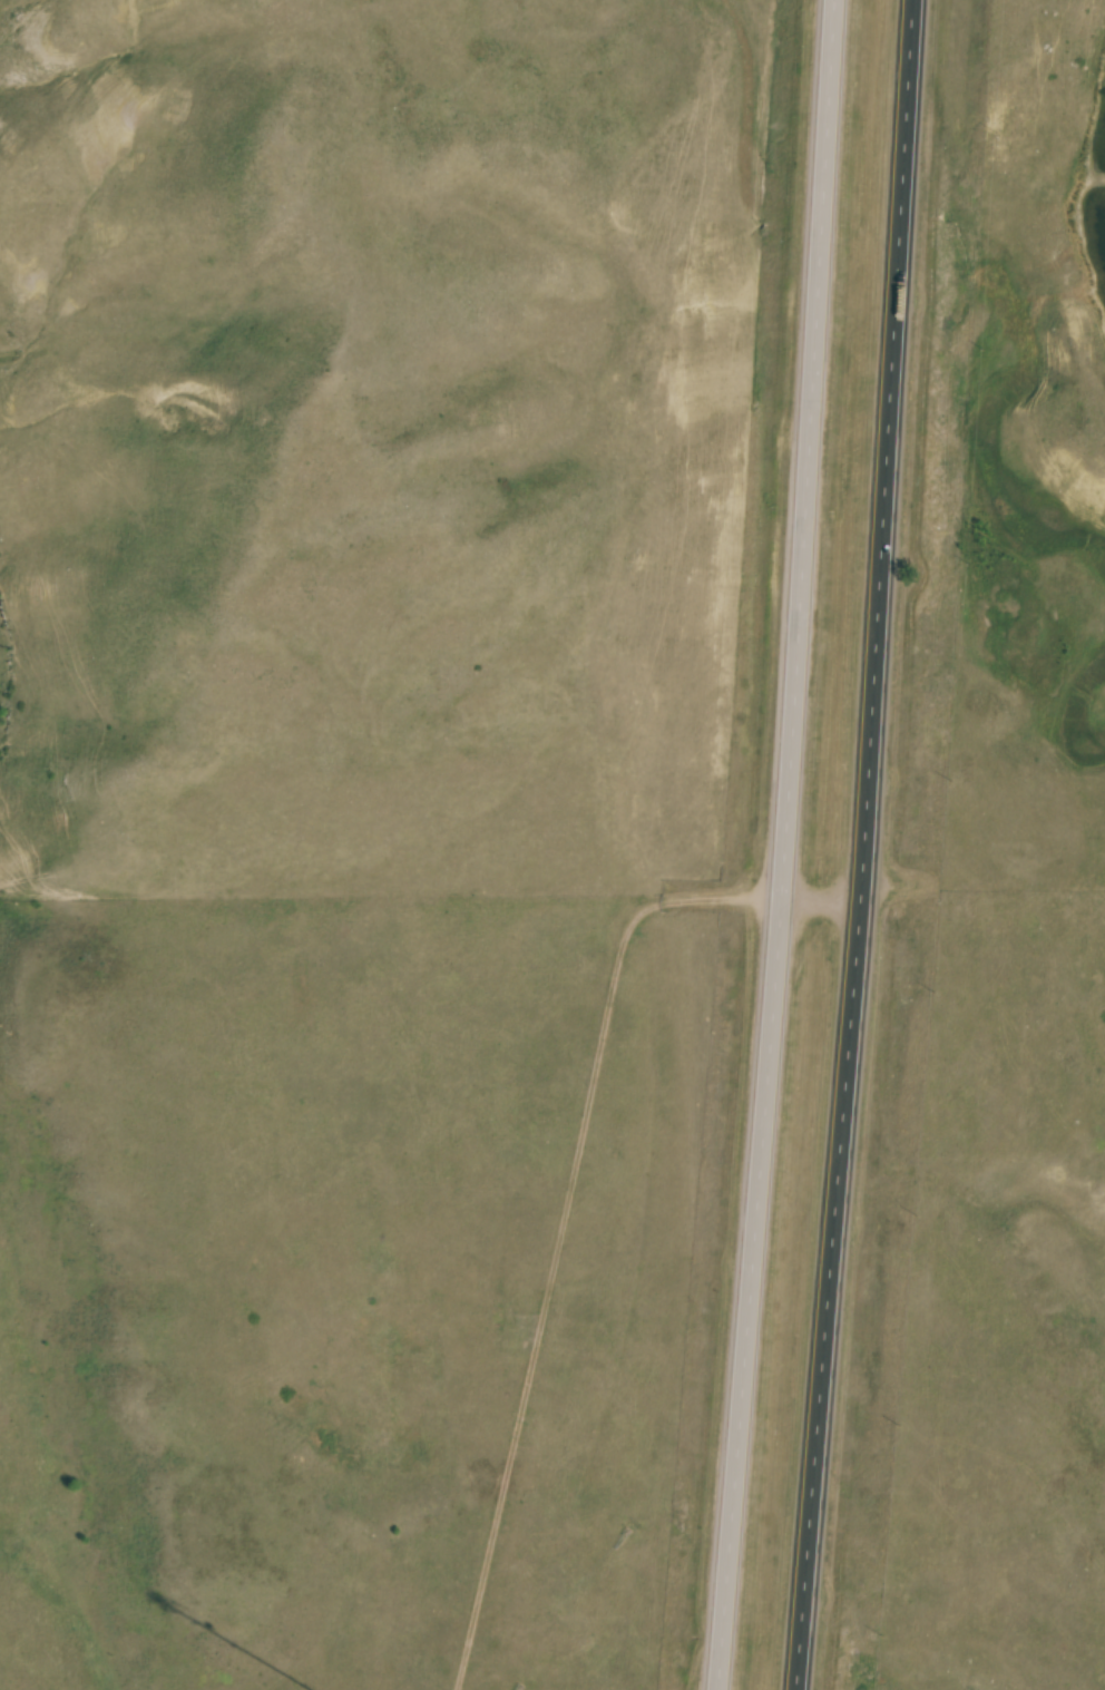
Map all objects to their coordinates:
road: (783, 846)
road: (864, 846)

